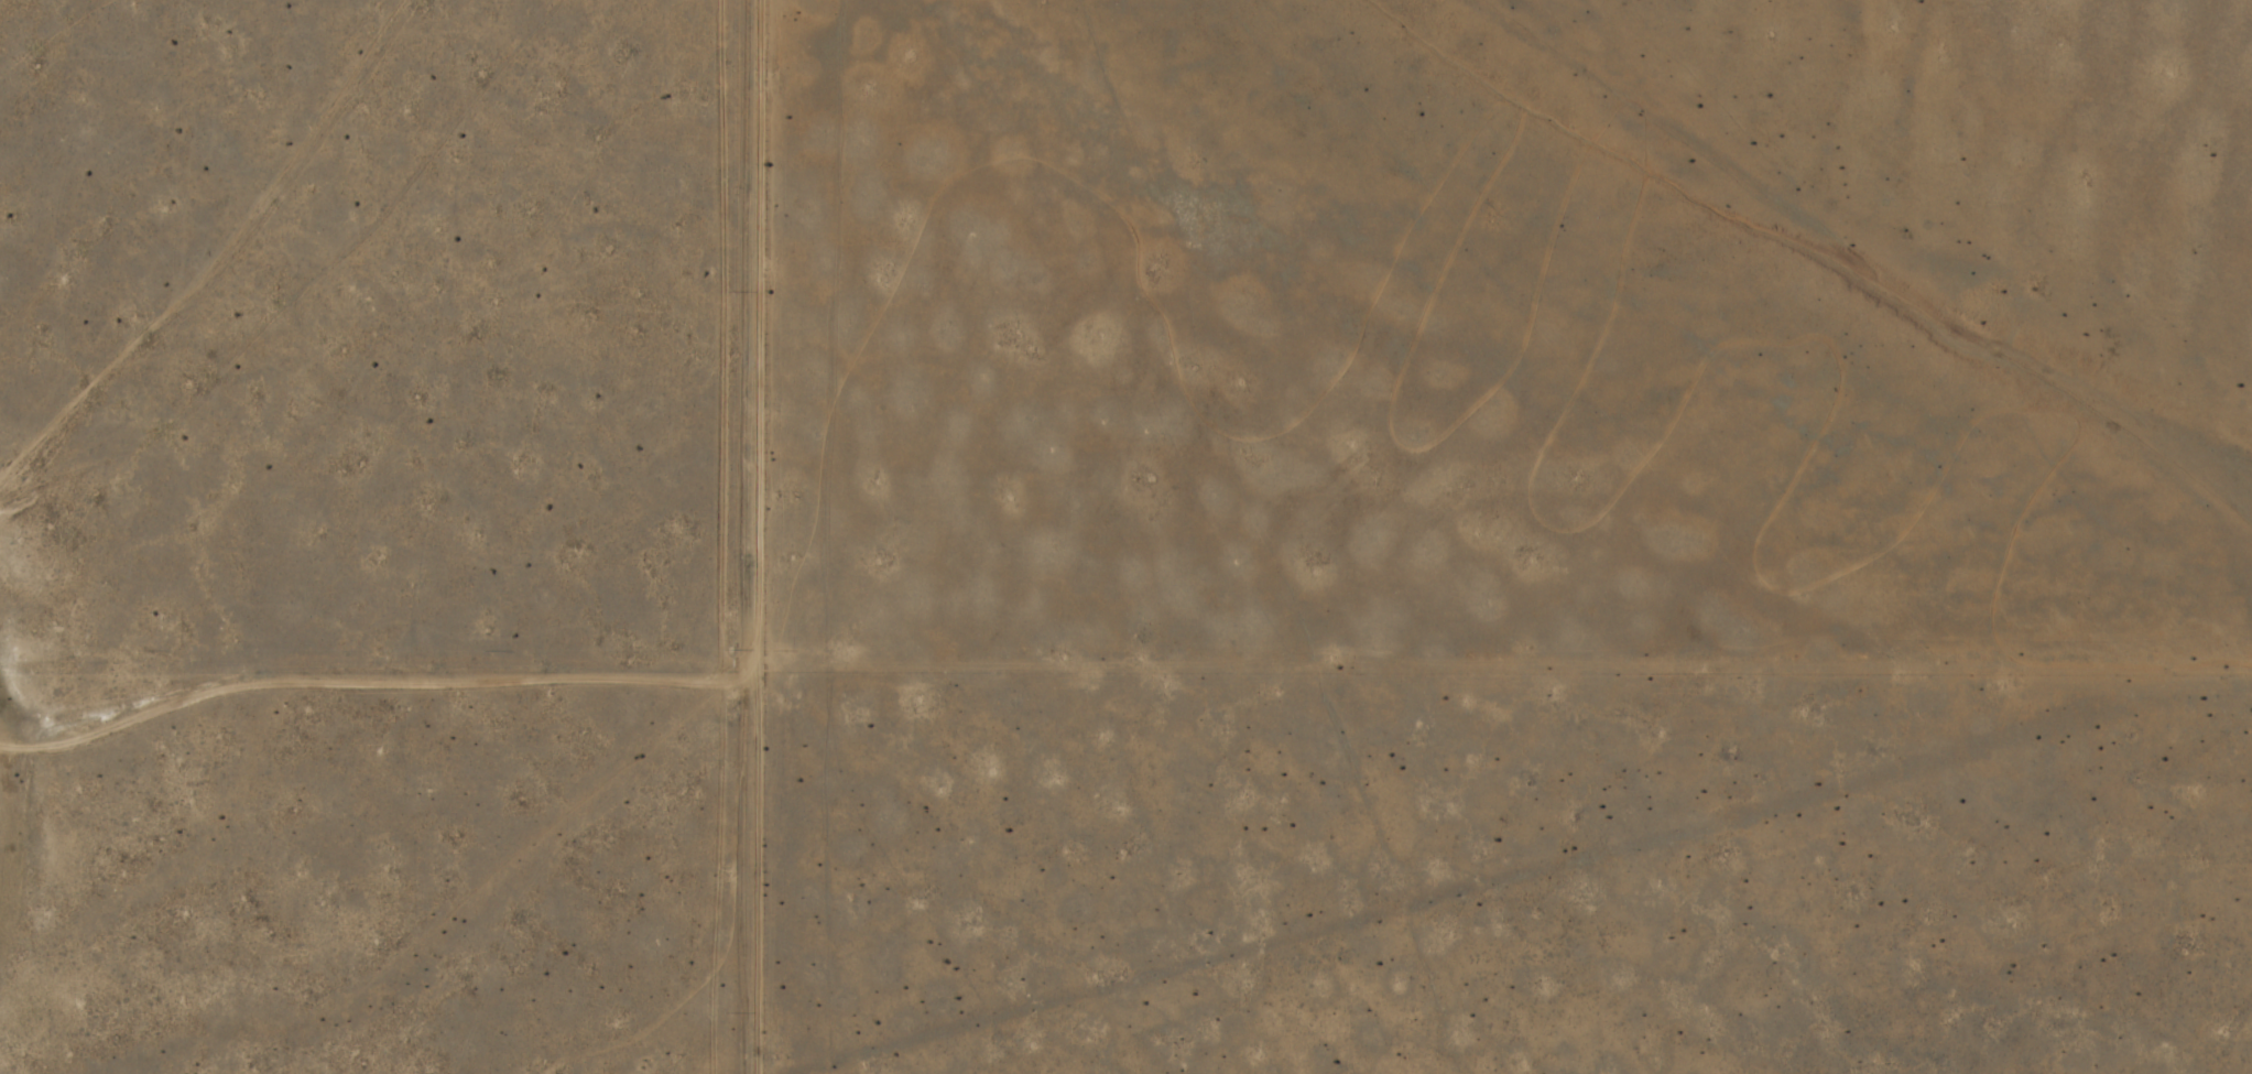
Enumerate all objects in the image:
road: (720, 536)
road: (356, 661)
road: (659, 859)

